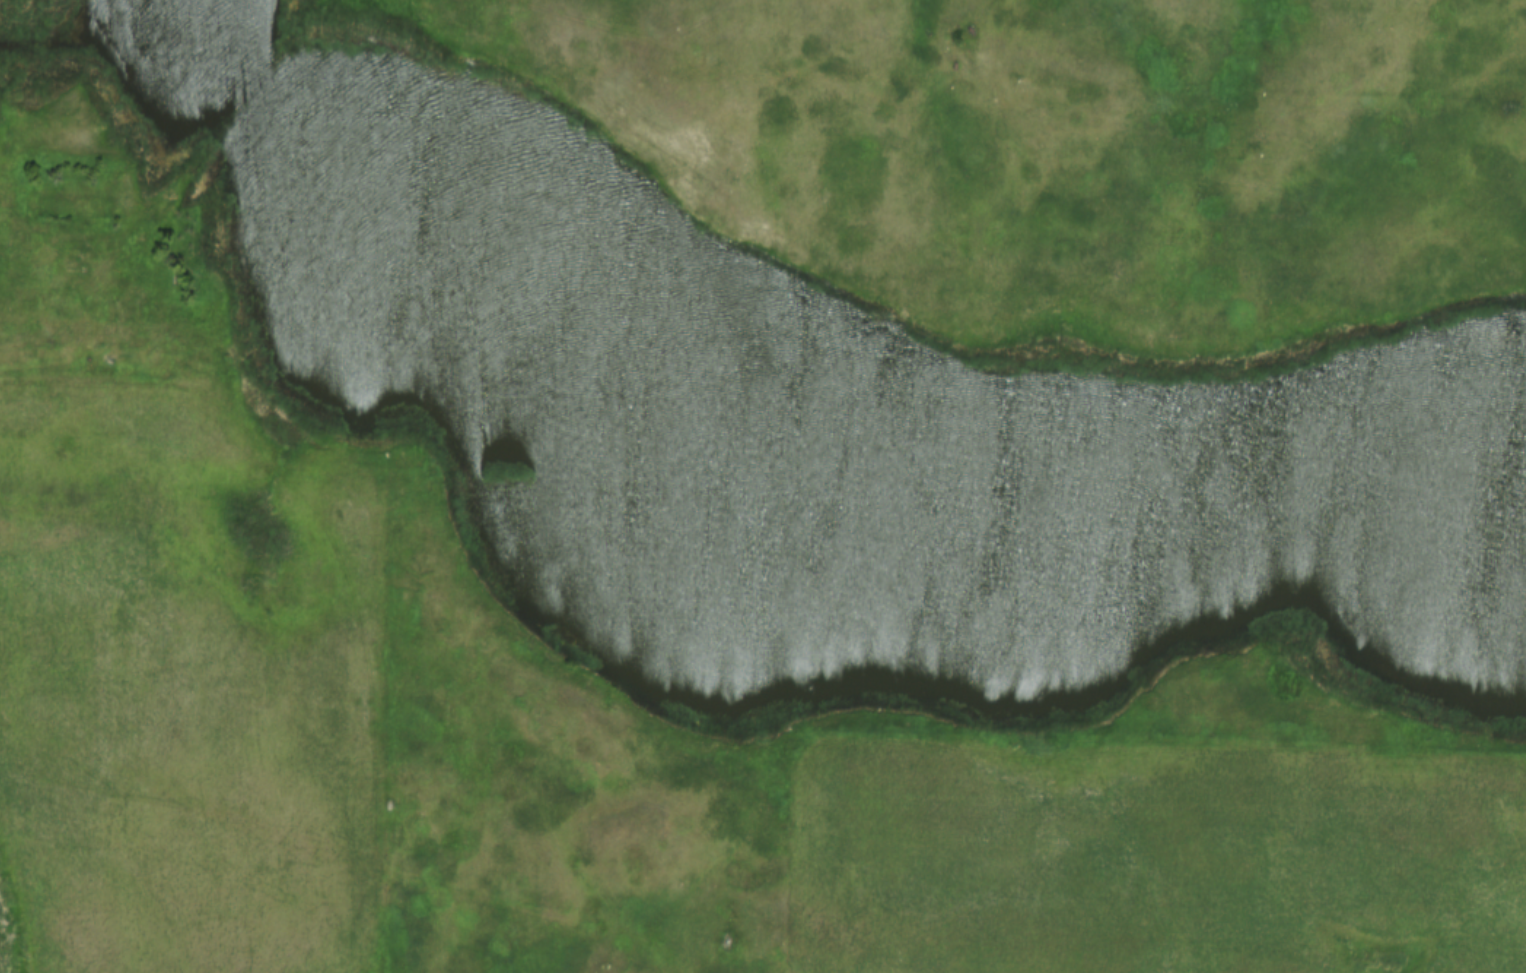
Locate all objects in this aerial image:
road: (256, 156)

